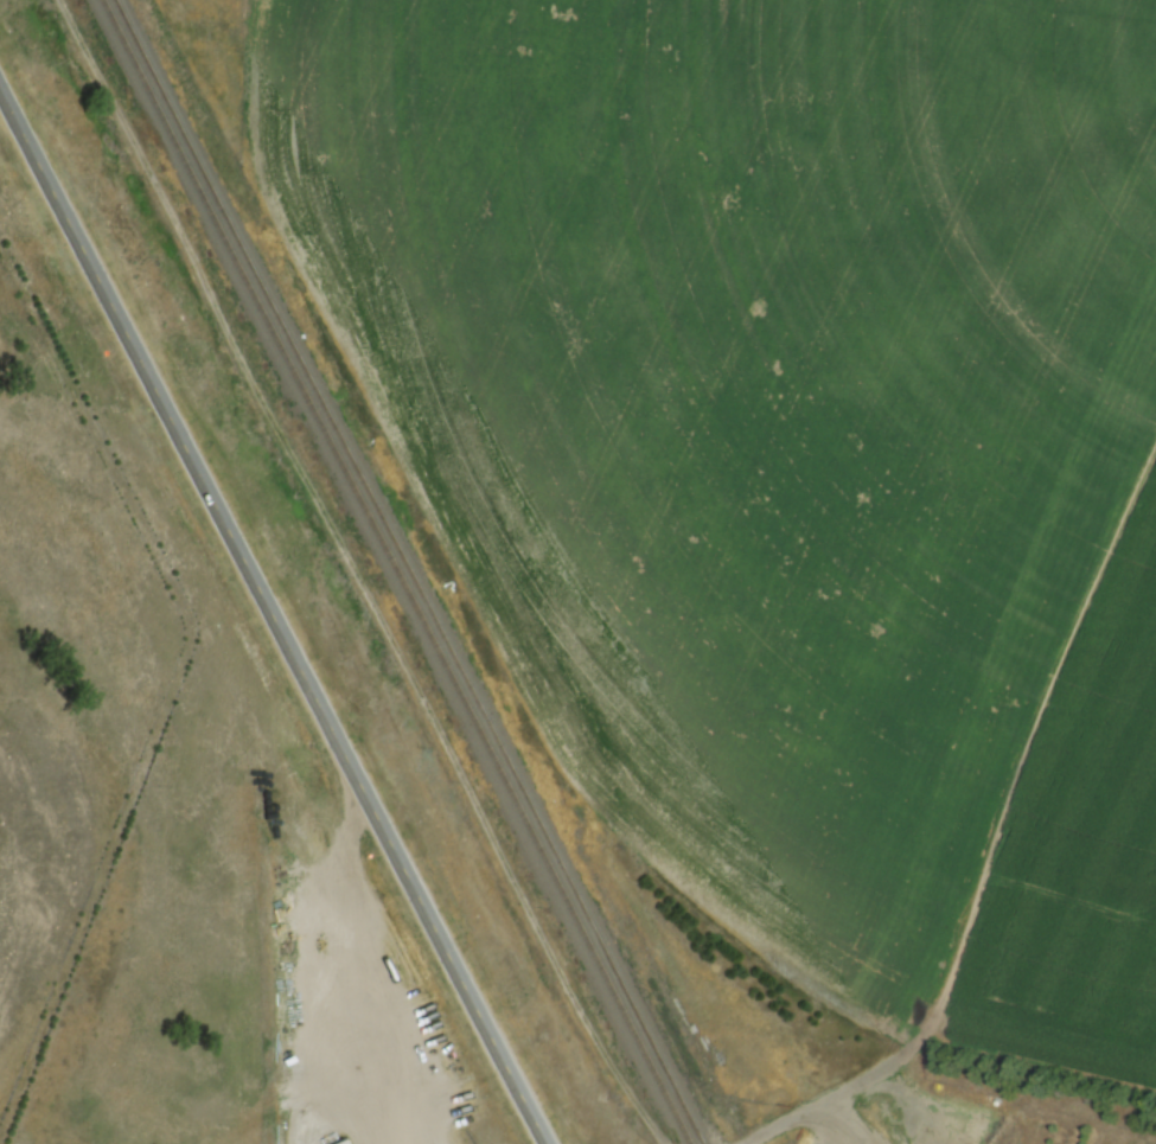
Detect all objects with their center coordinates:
crop: (791, 446)
railway: (391, 571)
railway: (409, 571)
road: (274, 614)

